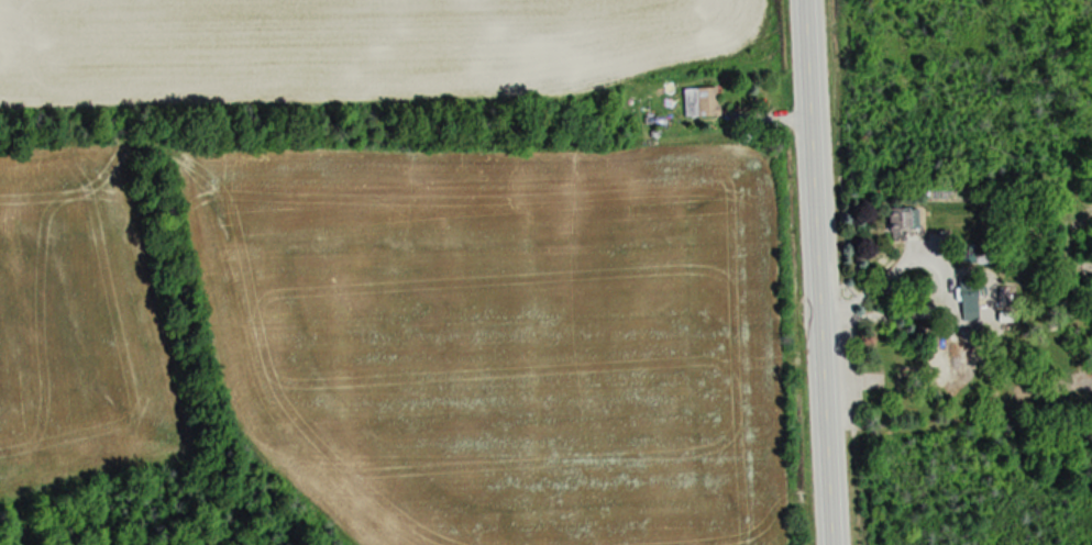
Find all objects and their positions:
building: (699, 102)
building: (904, 219)
road: (815, 272)
road: (938, 290)
building: (967, 298)
building: (948, 356)

